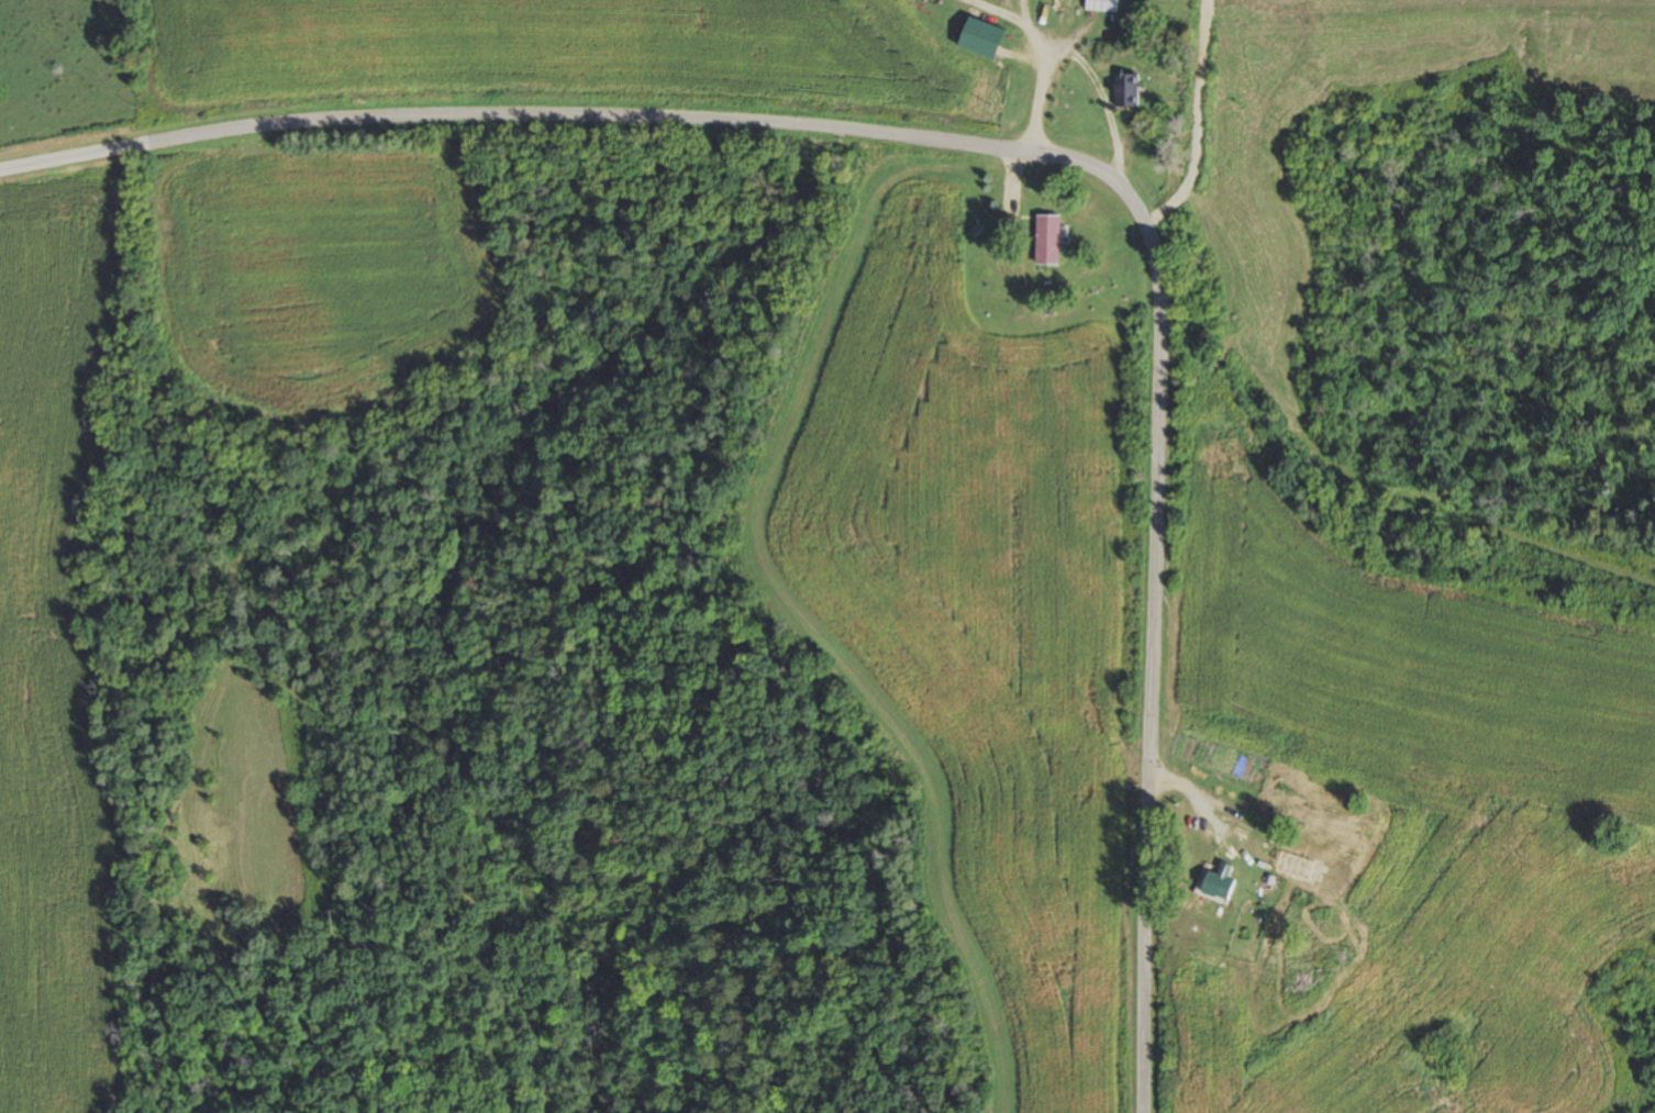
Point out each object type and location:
building: (1099, 7)
building: (1124, 91)
road: (1029, 152)
building: (1044, 241)
building: (1413, 819)
building: (1219, 843)

